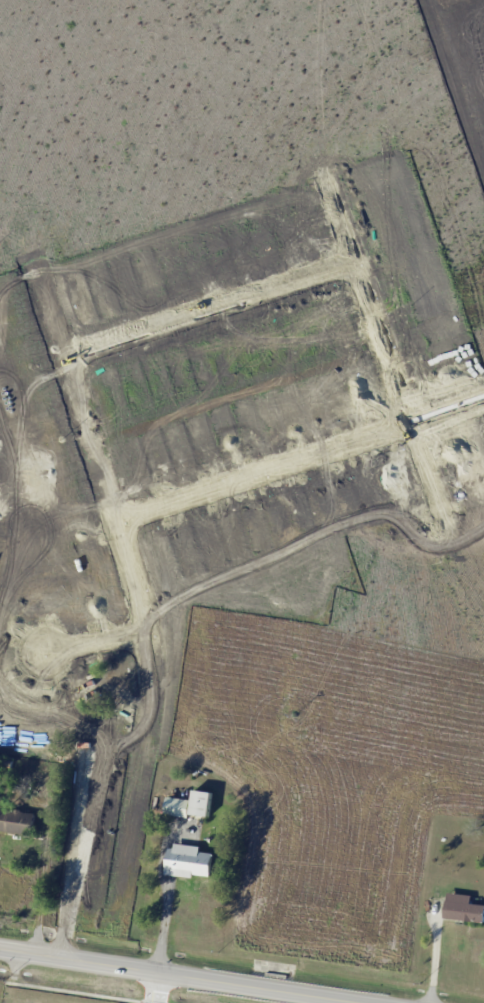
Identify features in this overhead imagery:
road: (360, 290)
road: (204, 303)
road: (298, 453)
road: (444, 521)
road: (141, 603)
building: (76, 640)
road: (98, 643)
road: (428, 715)
building: (100, 720)
road: (482, 725)
building: (189, 804)
building: (16, 821)
road: (70, 848)
building: (187, 860)
road: (42, 886)
building: (462, 907)
road: (162, 925)
road: (435, 957)
road: (188, 976)
road: (154, 988)

